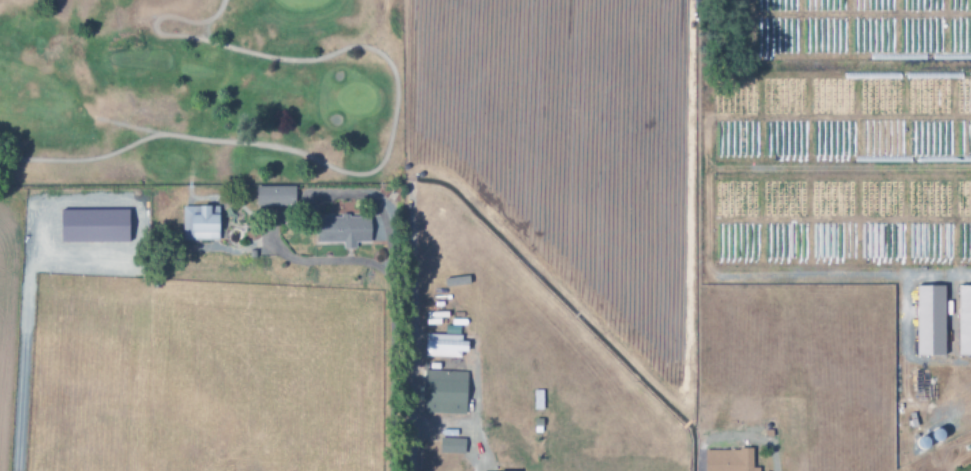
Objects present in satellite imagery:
road: (389, 143)
building: (273, 196)
building: (199, 223)
building: (342, 230)
crop: (688, 236)
building: (929, 321)
building: (963, 321)
road: (25, 338)
building: (444, 345)
building: (443, 392)
building: (451, 446)
building: (728, 460)

